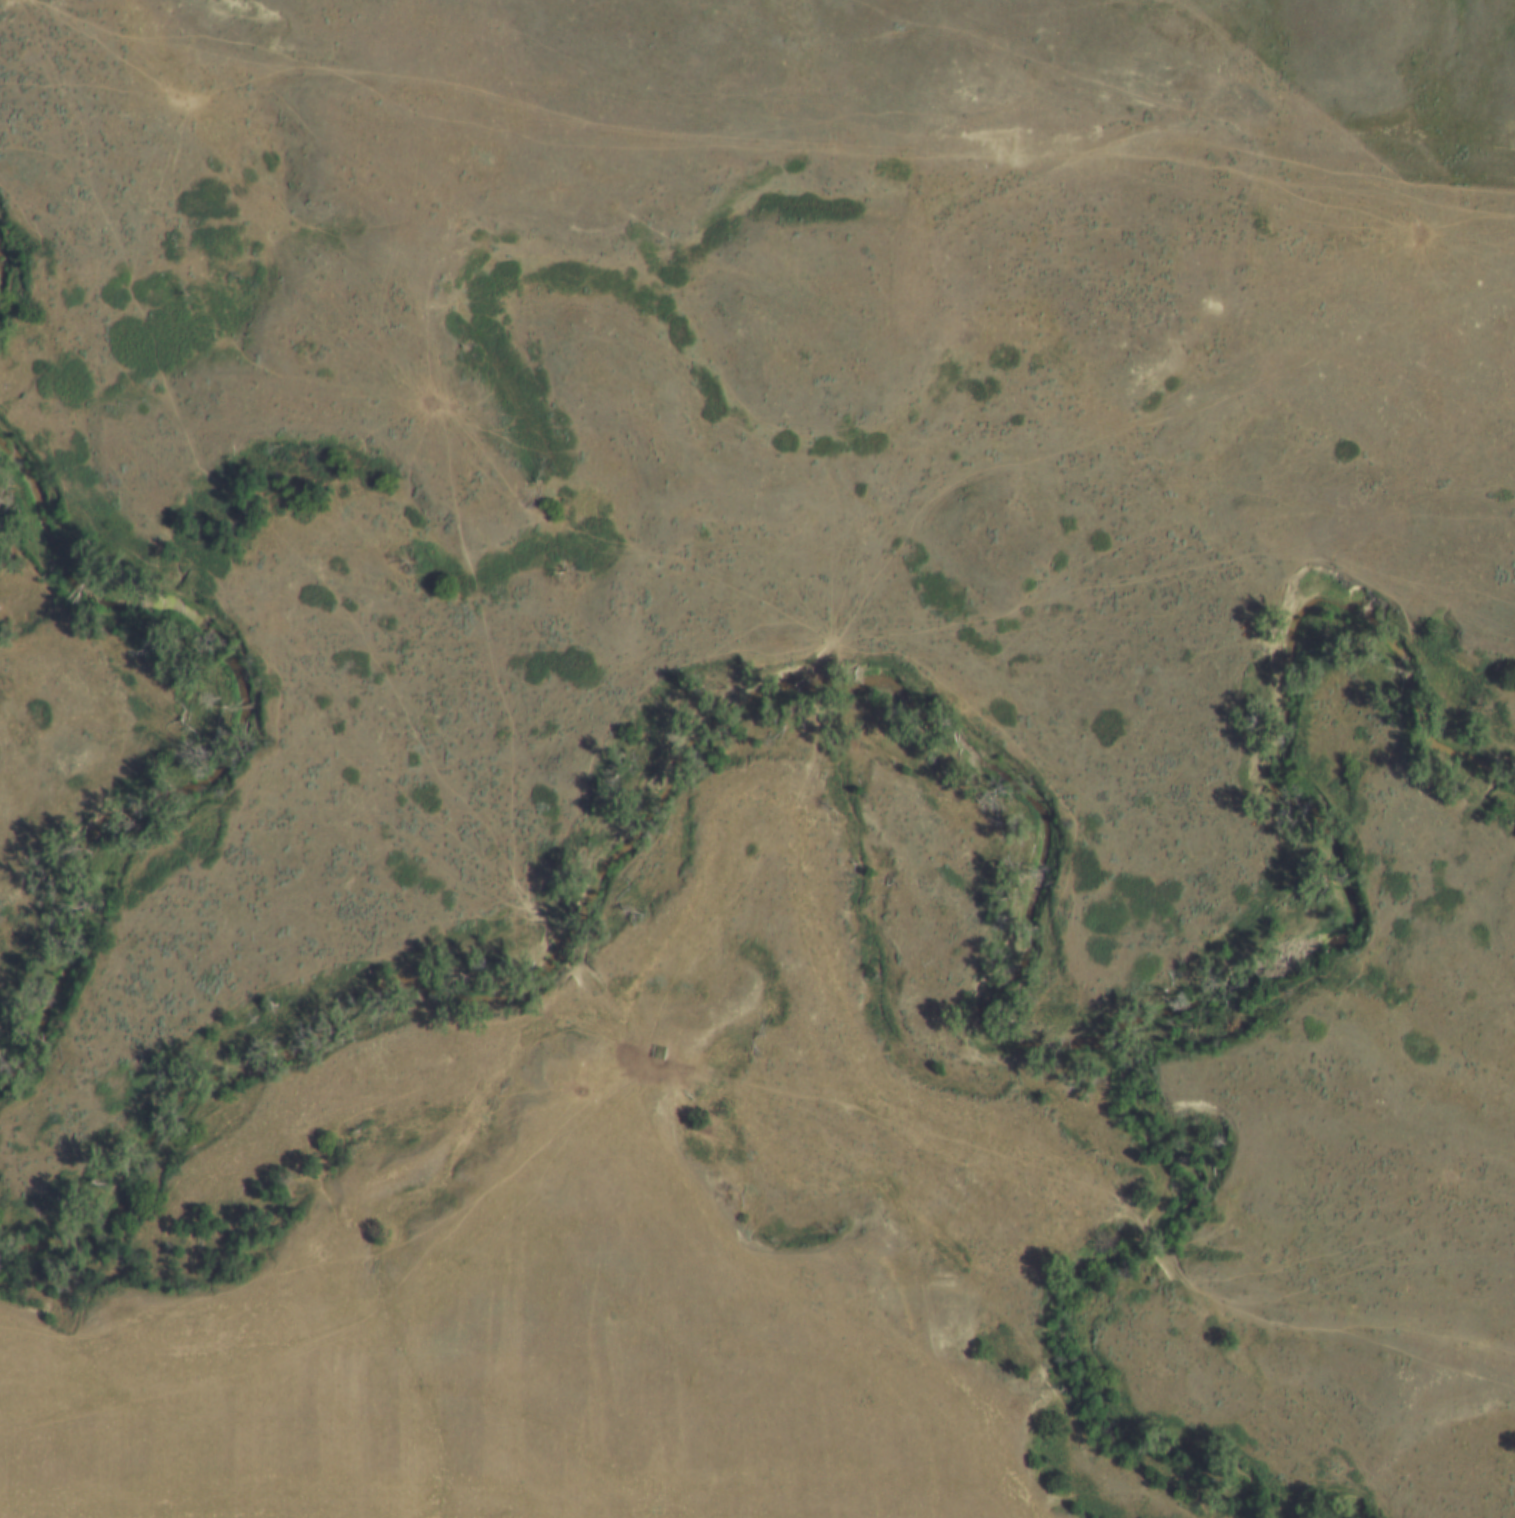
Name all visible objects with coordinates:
road: (785, 826)

